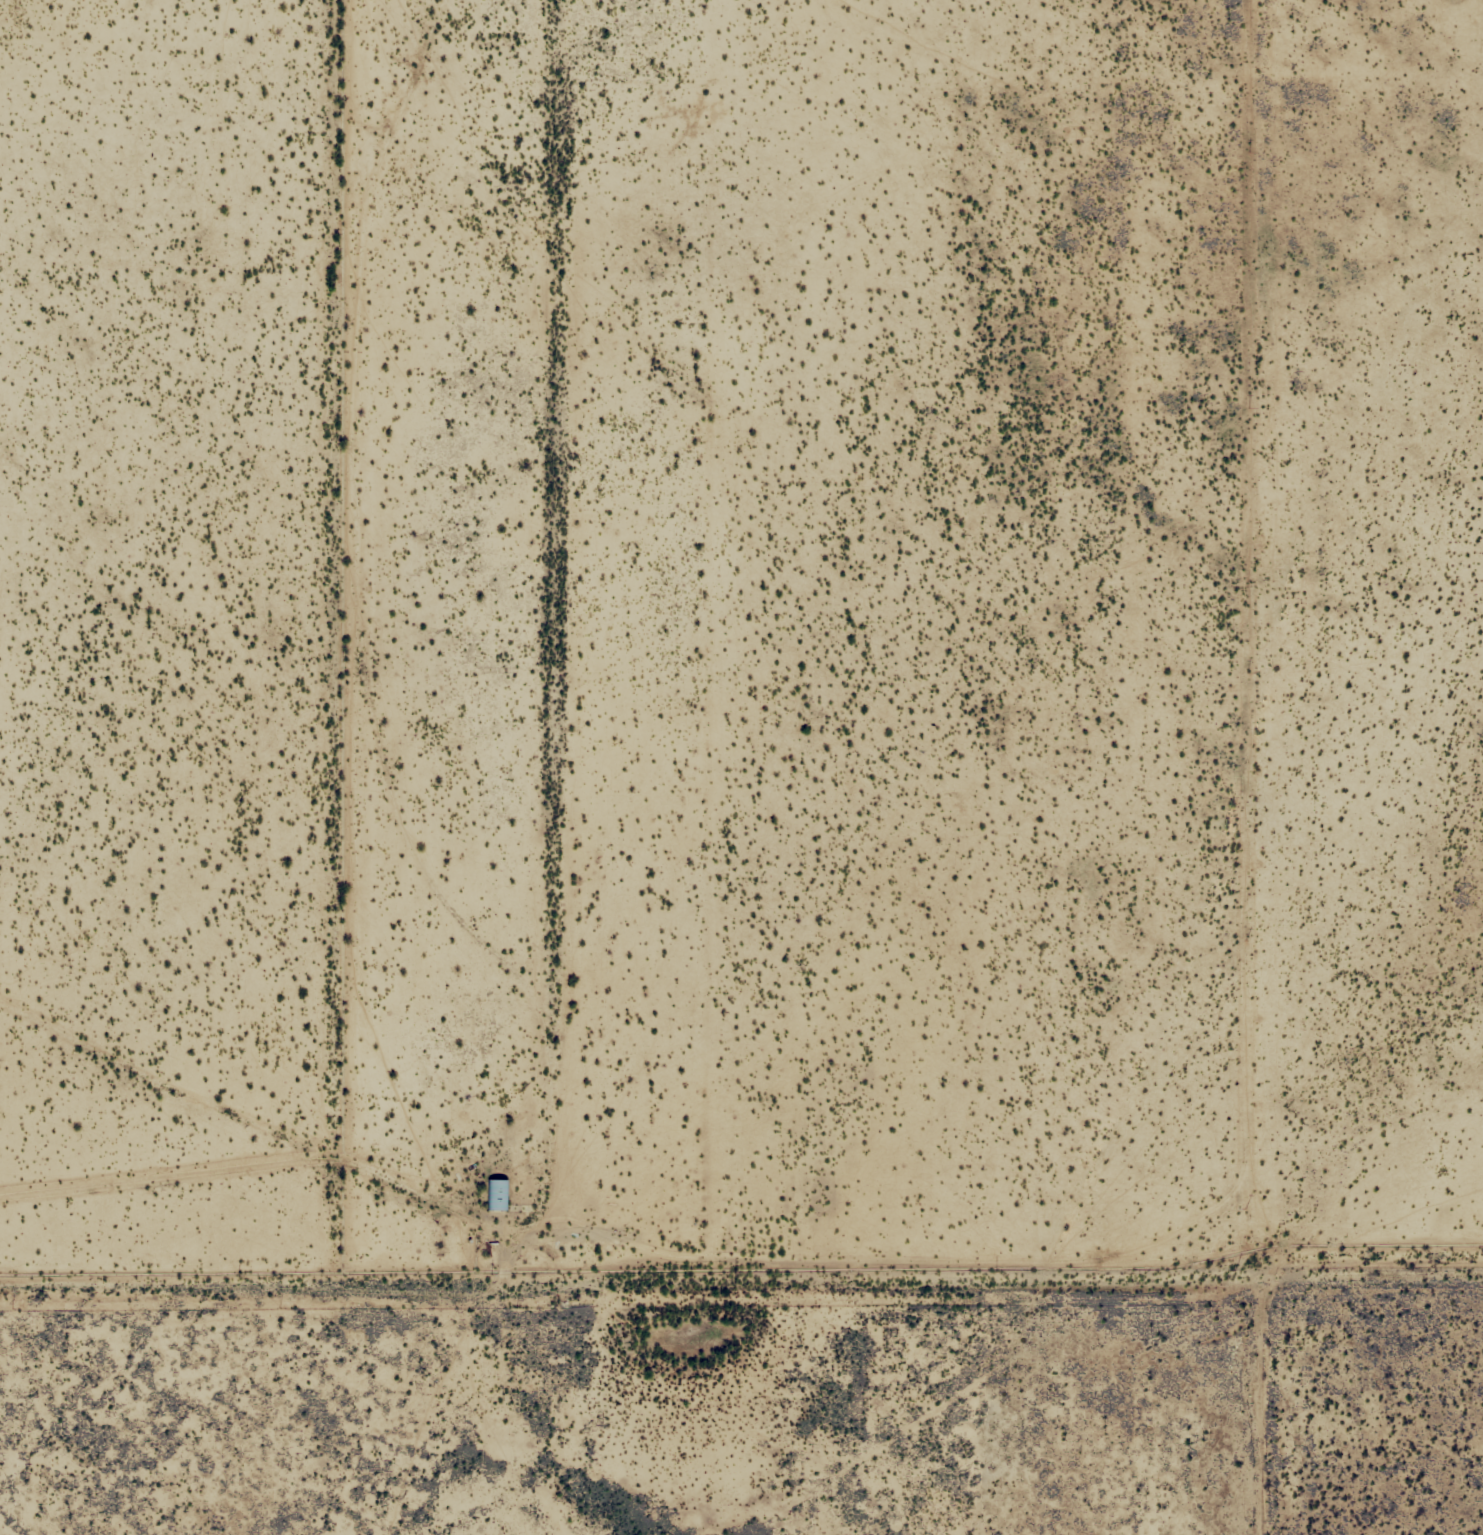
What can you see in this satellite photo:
building: (497, 1195)
road: (741, 1305)

